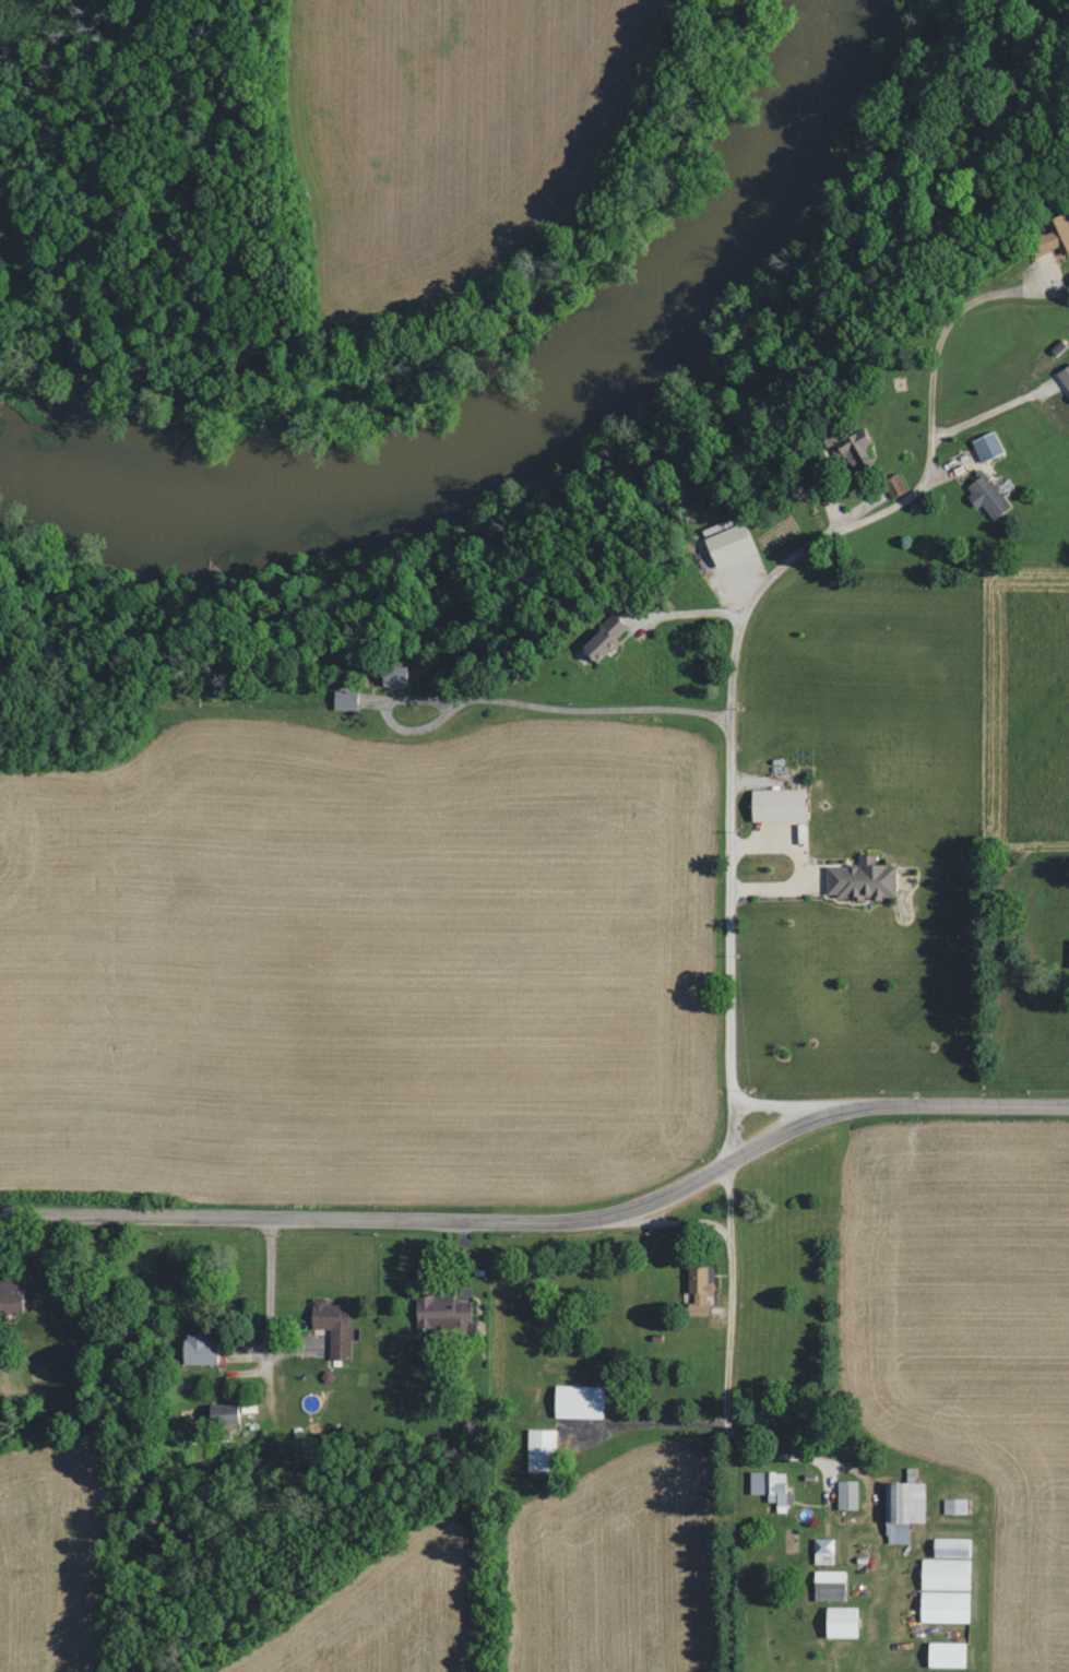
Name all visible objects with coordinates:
building: (1053, 236)
building: (1064, 377)
river: (503, 431)
building: (985, 444)
building: (851, 446)
building: (892, 484)
building: (985, 494)
building: (726, 545)
road: (699, 625)
building: (601, 637)
road: (758, 638)
building: (391, 675)
building: (343, 699)
road: (595, 720)
building: (775, 804)
building: (859, 879)
building: (1068, 952)
road: (892, 1103)
road: (795, 1104)
road: (678, 1187)
road: (728, 1195)
road: (679, 1217)
road: (313, 1222)
road: (269, 1286)
building: (698, 1290)
building: (9, 1293)
building: (440, 1313)
building: (331, 1327)
road: (728, 1329)
building: (194, 1350)
building: (575, 1401)
building: (221, 1414)
building: (538, 1448)
road: (780, 1456)
building: (767, 1484)
building: (845, 1493)
building: (953, 1505)
building: (901, 1507)
building: (821, 1544)
building: (950, 1546)
building: (943, 1573)
building: (942, 1605)
building: (838, 1621)
building: (945, 1653)

